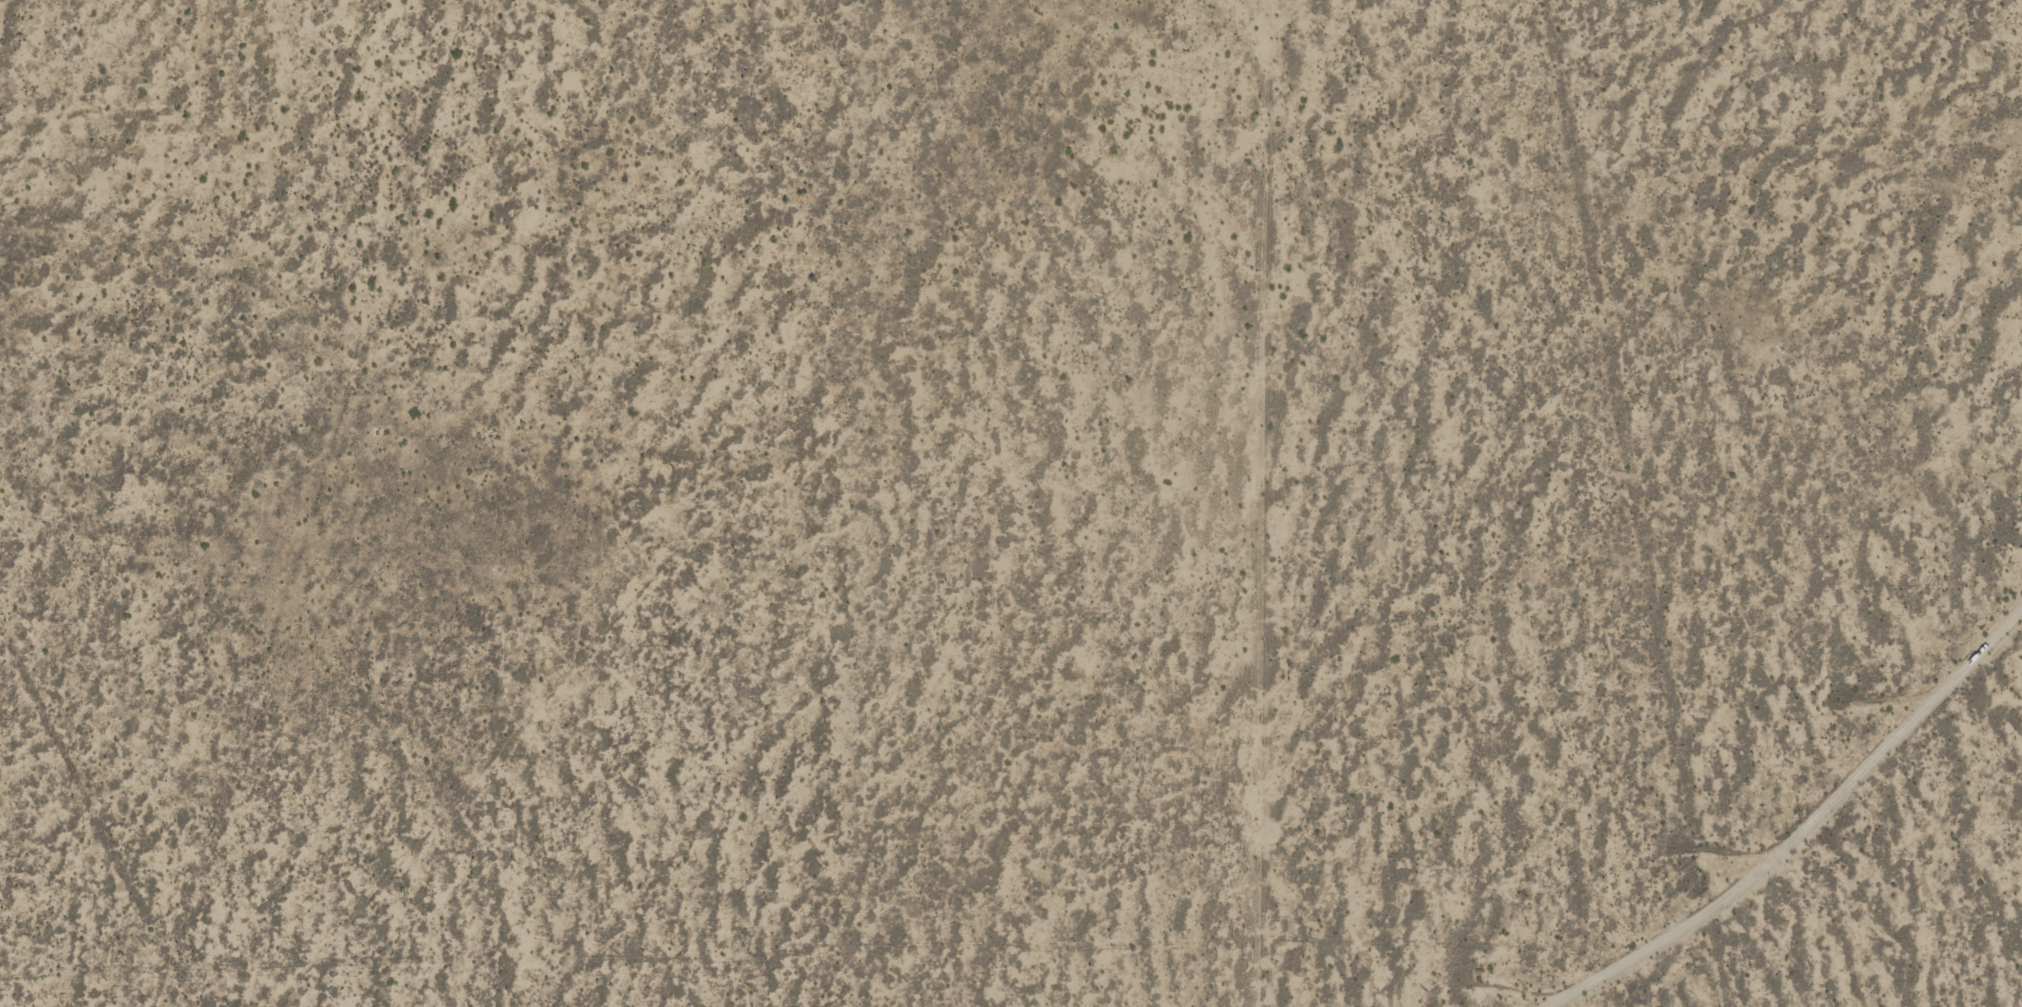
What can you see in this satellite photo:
road: (1831, 800)
road: (1647, 985)

